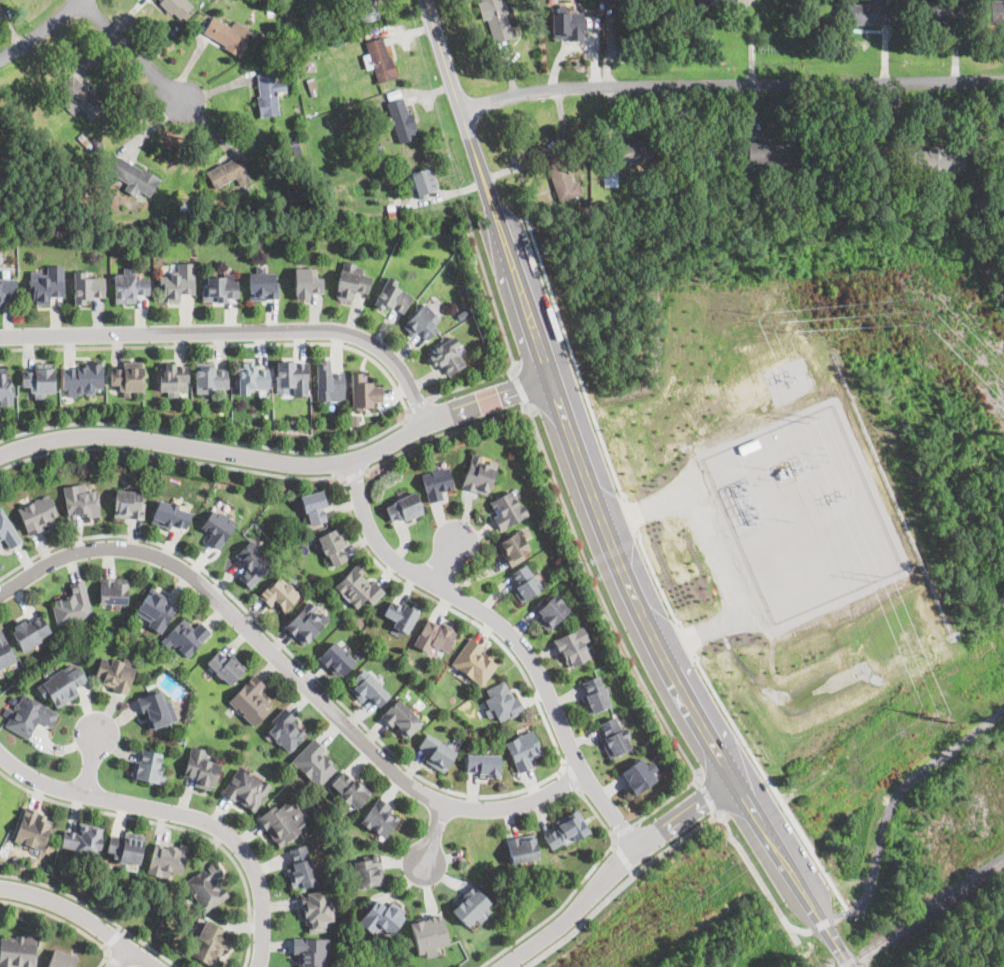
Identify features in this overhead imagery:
building: (711, 2)
building: (176, 7)
building: (367, 10)
building: (998, 10)
building: (270, 12)
building: (866, 12)
building: (941, 12)
building: (496, 20)
building: (568, 25)
road: (41, 32)
building: (229, 34)
building: (296, 41)
road: (133, 51)
building: (379, 63)
building: (310, 81)
road: (731, 82)
building: (267, 94)
building: (79, 97)
building: (297, 109)
building: (401, 119)
building: (97, 143)
building: (295, 145)
building: (633, 149)
building: (772, 151)
building: (380, 152)
building: (366, 155)
building: (937, 157)
building: (553, 163)
building: (229, 173)
building: (137, 178)
building: (610, 178)
building: (563, 181)
building: (415, 182)
building: (296, 193)
building: (185, 208)
building: (391, 211)
building: (275, 237)
building: (351, 282)
building: (178, 283)
building: (306, 283)
building: (47, 284)
building: (262, 285)
building: (86, 286)
building: (129, 286)
building: (7, 288)
building: (220, 289)
building: (391, 296)
power tower: (923, 310)
building: (421, 322)
power tower: (765, 322)
road: (235, 330)
road: (508, 343)
building: (446, 354)
road: (572, 356)
road: (513, 373)
building: (128, 377)
building: (292, 377)
building: (40, 378)
building: (83, 378)
building: (209, 378)
building: (250, 378)
building: (171, 379)
building: (329, 383)
building: (5, 387)
road: (522, 389)
building: (364, 391)
road: (405, 405)
road: (418, 405)
power tower: (808, 418)
building: (357, 420)
road: (445, 432)
road: (281, 461)
building: (479, 473)
road: (355, 474)
building: (436, 481)
building: (81, 500)
road: (595, 502)
building: (128, 505)
building: (315, 506)
building: (404, 507)
building: (506, 509)
power substation: (803, 512)
road: (632, 514)
building: (37, 515)
building: (170, 515)
building: (217, 528)
building: (8, 531)
building: (0, 543)
building: (332, 546)
building: (512, 548)
road: (724, 551)
road: (443, 561)
building: (253, 563)
power tower: (875, 575)
road: (656, 578)
building: (524, 582)
building: (358, 586)
building: (113, 591)
building: (278, 594)
building: (73, 606)
building: (155, 610)
building: (551, 611)
building: (401, 616)
building: (305, 622)
road: (617, 631)
building: (29, 632)
road: (510, 633)
building: (434, 635)
building: (185, 638)
road: (687, 641)
building: (573, 647)
building: (5, 653)
building: (335, 660)
building: (475, 660)
building: (225, 667)
building: (116, 672)
road: (291, 672)
building: (62, 684)
building: (368, 689)
building: (593, 694)
building: (250, 700)
building: (503, 701)
building: (156, 709)
power tower: (931, 714)
building: (28, 715)
building: (401, 717)
building: (285, 729)
building: (613, 736)
road: (557, 744)
building: (437, 750)
building: (524, 750)
building: (314, 762)
road: (91, 763)
building: (483, 764)
building: (149, 766)
building: (201, 769)
building: (638, 774)
road: (573, 776)
road: (698, 783)
road: (770, 785)
building: (247, 787)
building: (350, 790)
road: (708, 797)
road: (893, 801)
road: (715, 812)
road: (181, 814)
building: (380, 819)
building: (283, 821)
road: (172, 825)
building: (33, 828)
road: (624, 830)
building: (564, 831)
road: (433, 832)
building: (84, 838)
road: (681, 838)
building: (126, 847)
building: (522, 849)
road: (624, 857)
building: (167, 859)
building: (301, 867)
road: (612, 868)
building: (367, 872)
power tower: (699, 883)
building: (208, 885)
road: (575, 889)
building: (470, 907)
road: (94, 908)
building: (316, 909)
building: (382, 917)
road: (81, 918)
road: (65, 921)
road: (823, 923)
building: (427, 934)
building: (210, 942)
building: (18, 950)
building: (311, 951)
road: (119, 957)
building: (61, 959)
road: (113, 962)

